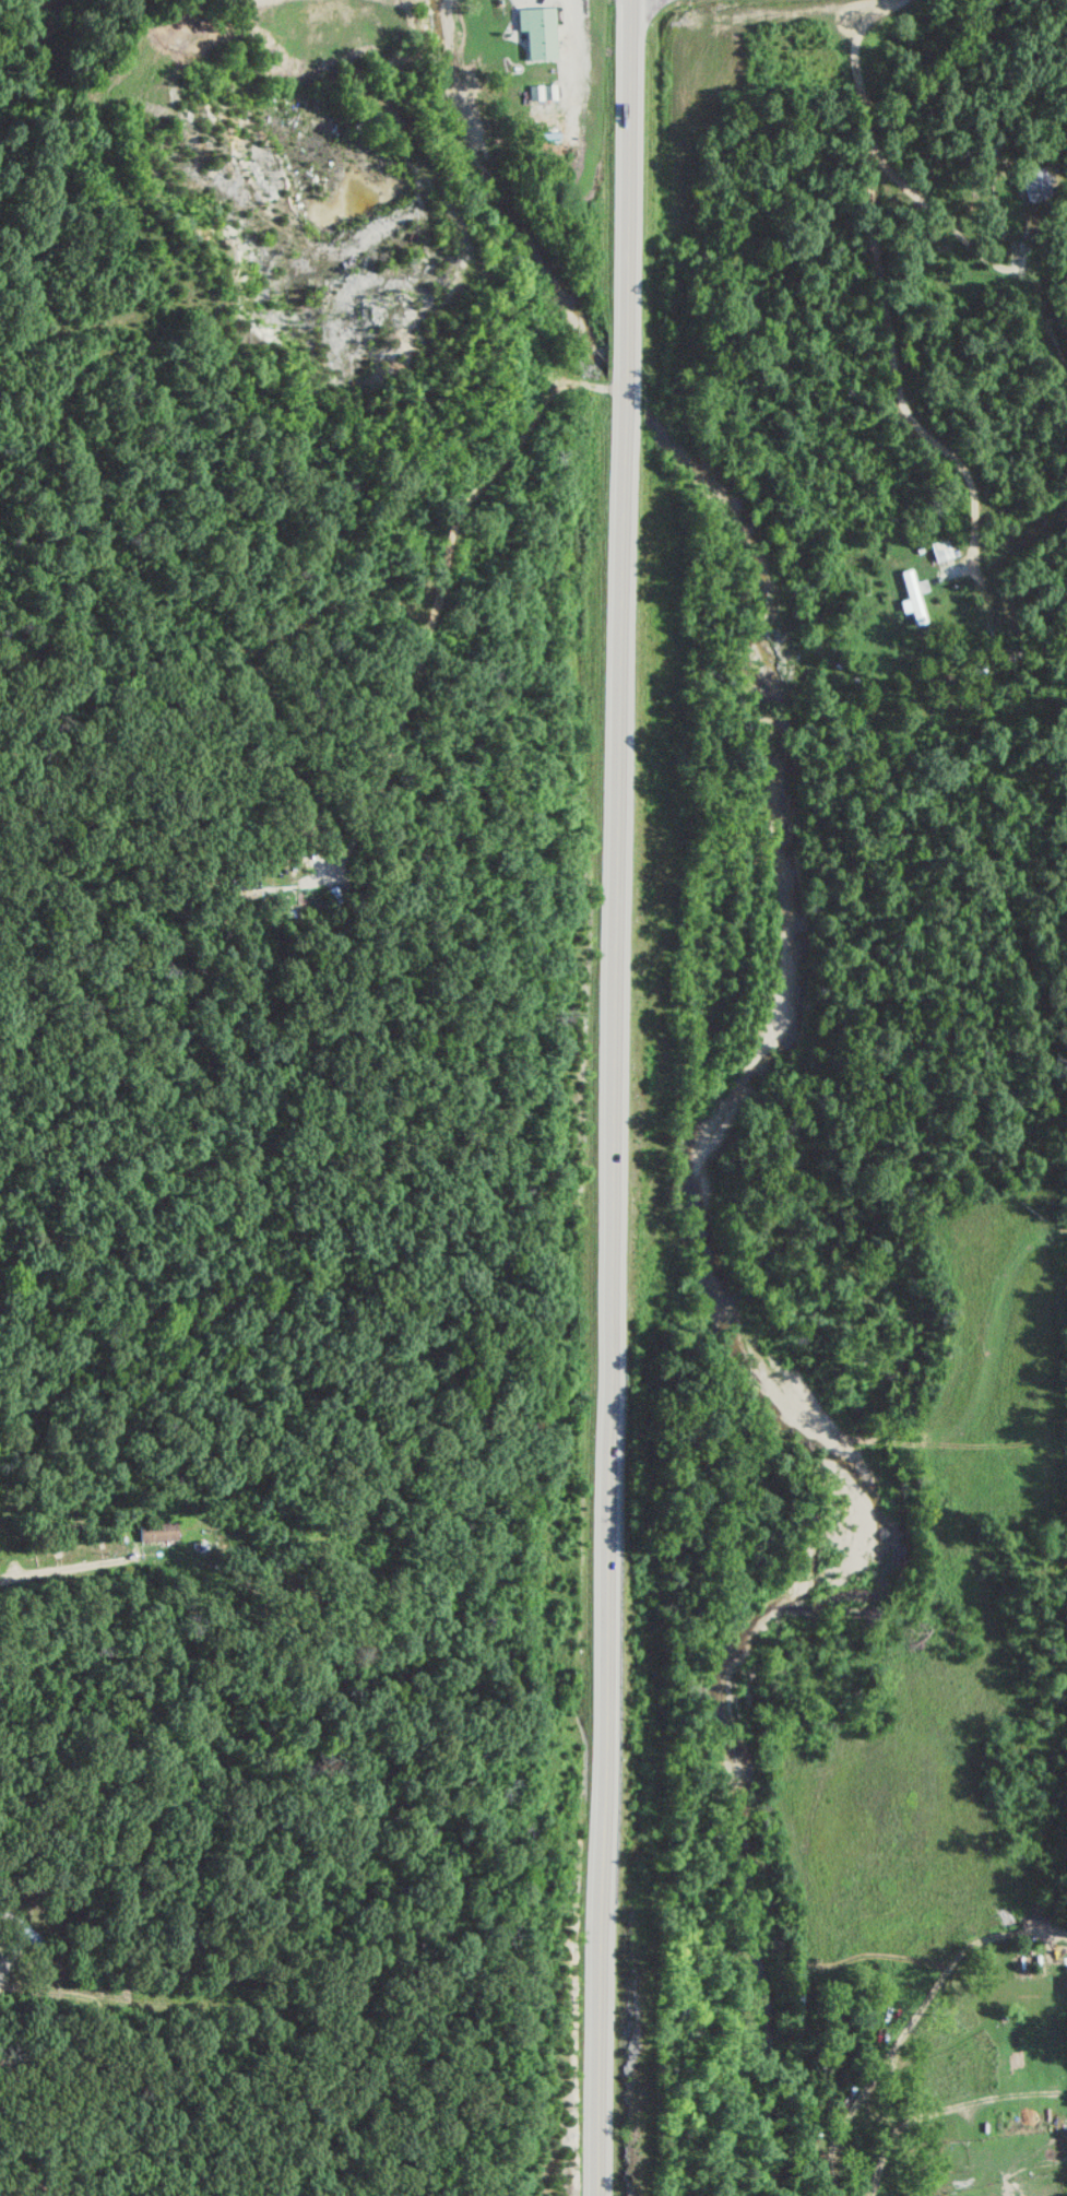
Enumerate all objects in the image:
building: (536, 31)
building: (1036, 182)
road: (942, 442)
building: (942, 550)
building: (909, 595)
road: (614, 1097)
building: (157, 1531)
road: (74, 1565)

